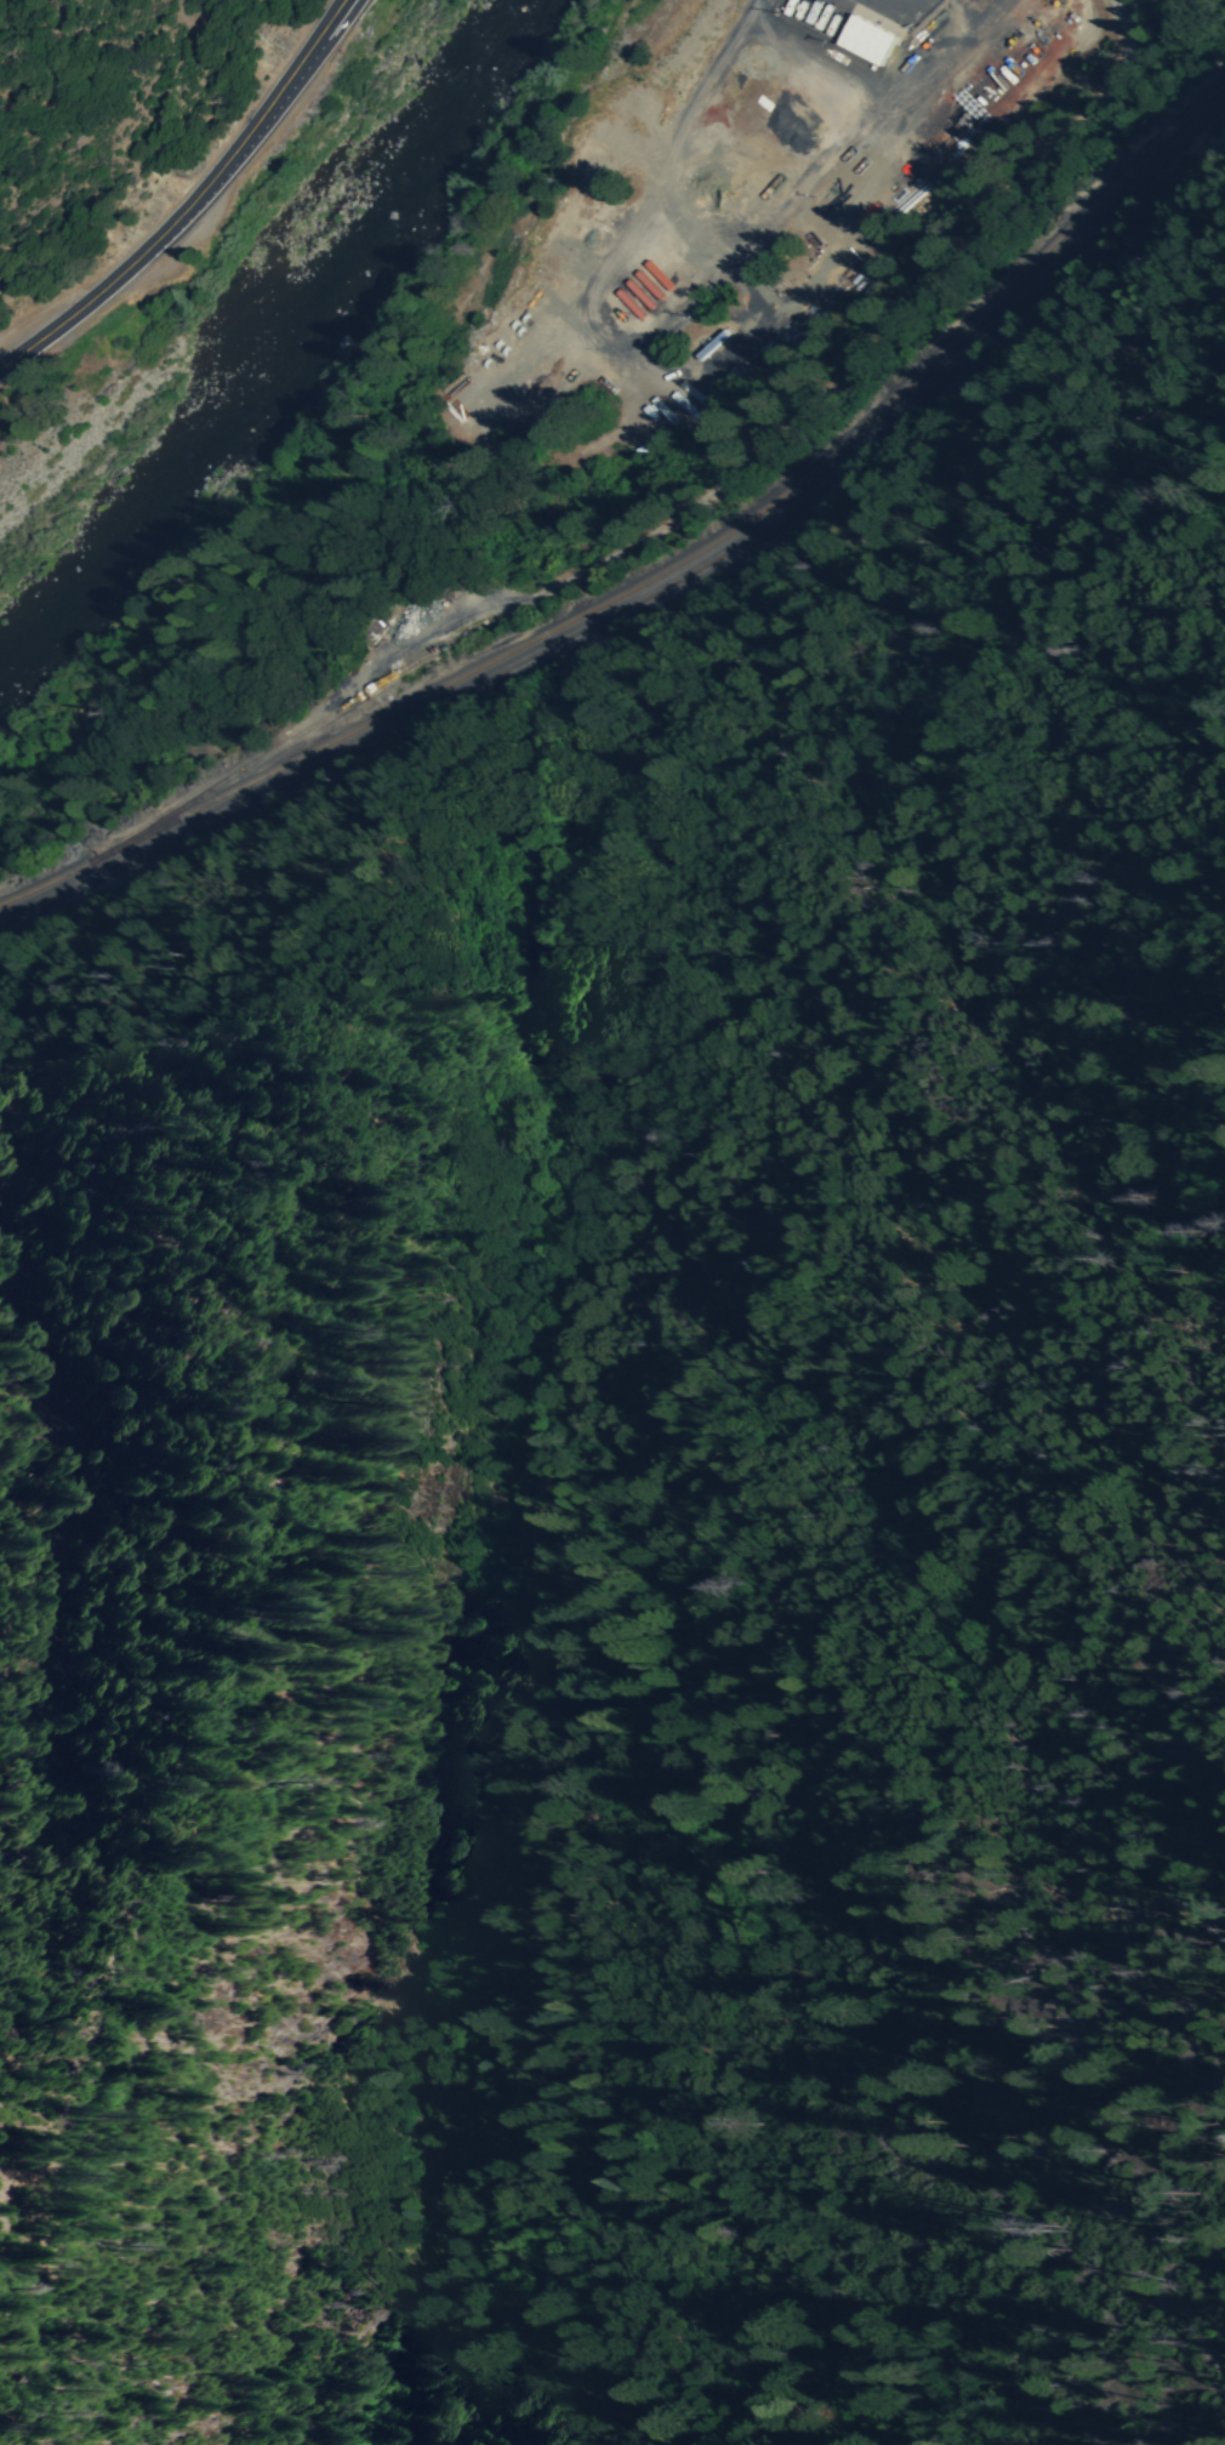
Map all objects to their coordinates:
road: (342, 2)
road: (342, 2)
building: (868, 38)
road: (313, 63)
road: (885, 82)
road: (665, 163)
road: (190, 204)
river: (392, 240)
building: (711, 346)
river: (102, 563)
railway: (668, 570)
railway: (667, 589)

